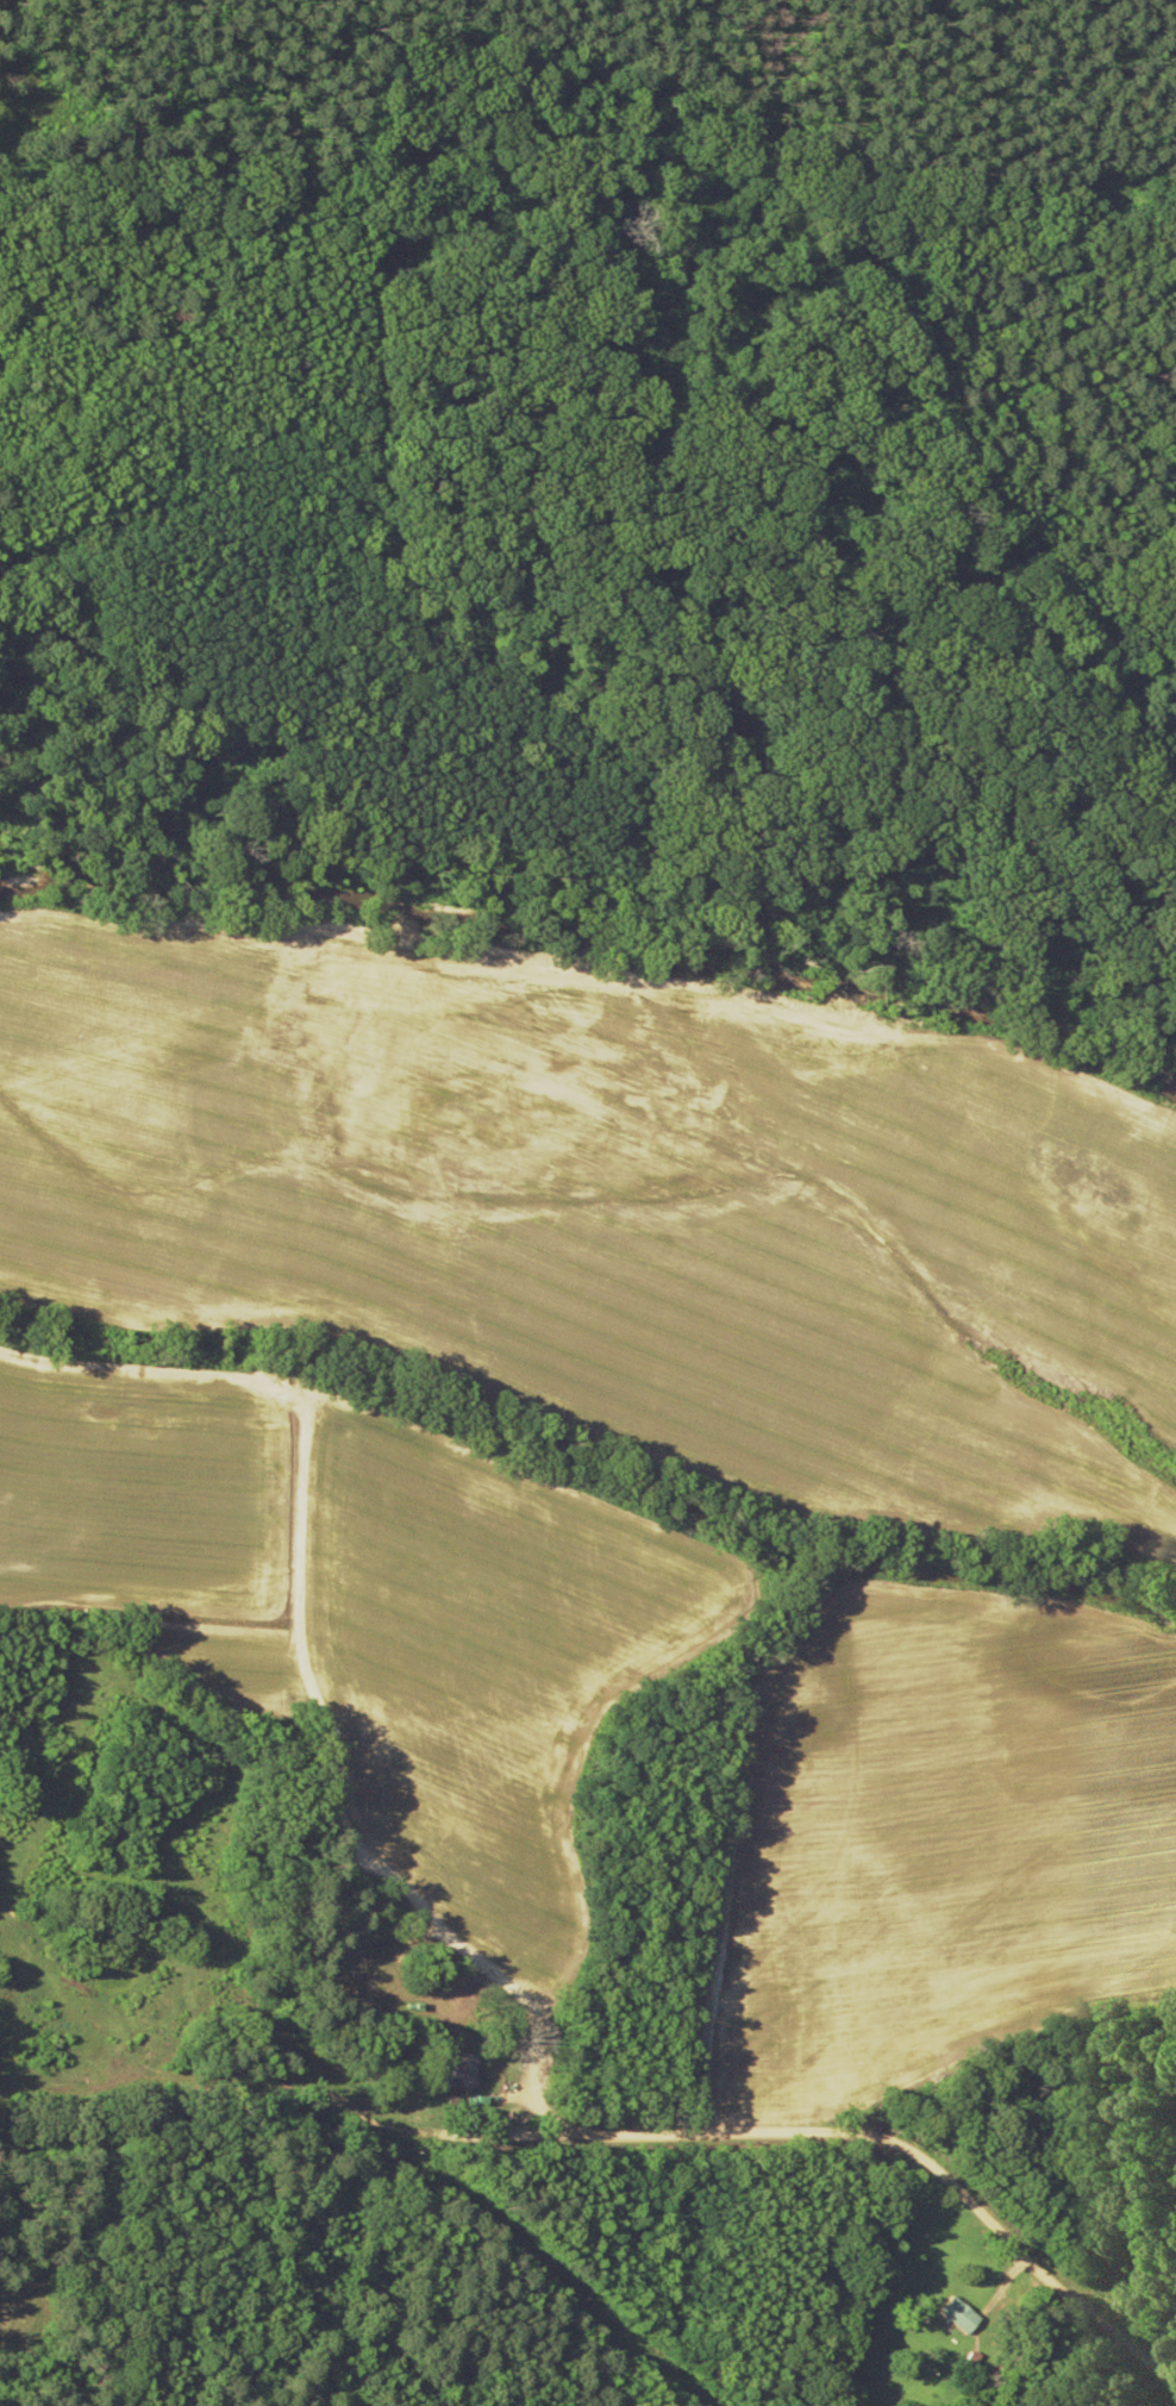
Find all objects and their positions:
building: (464, 2070)
road: (668, 2142)
road: (1006, 2279)
building: (962, 2314)

